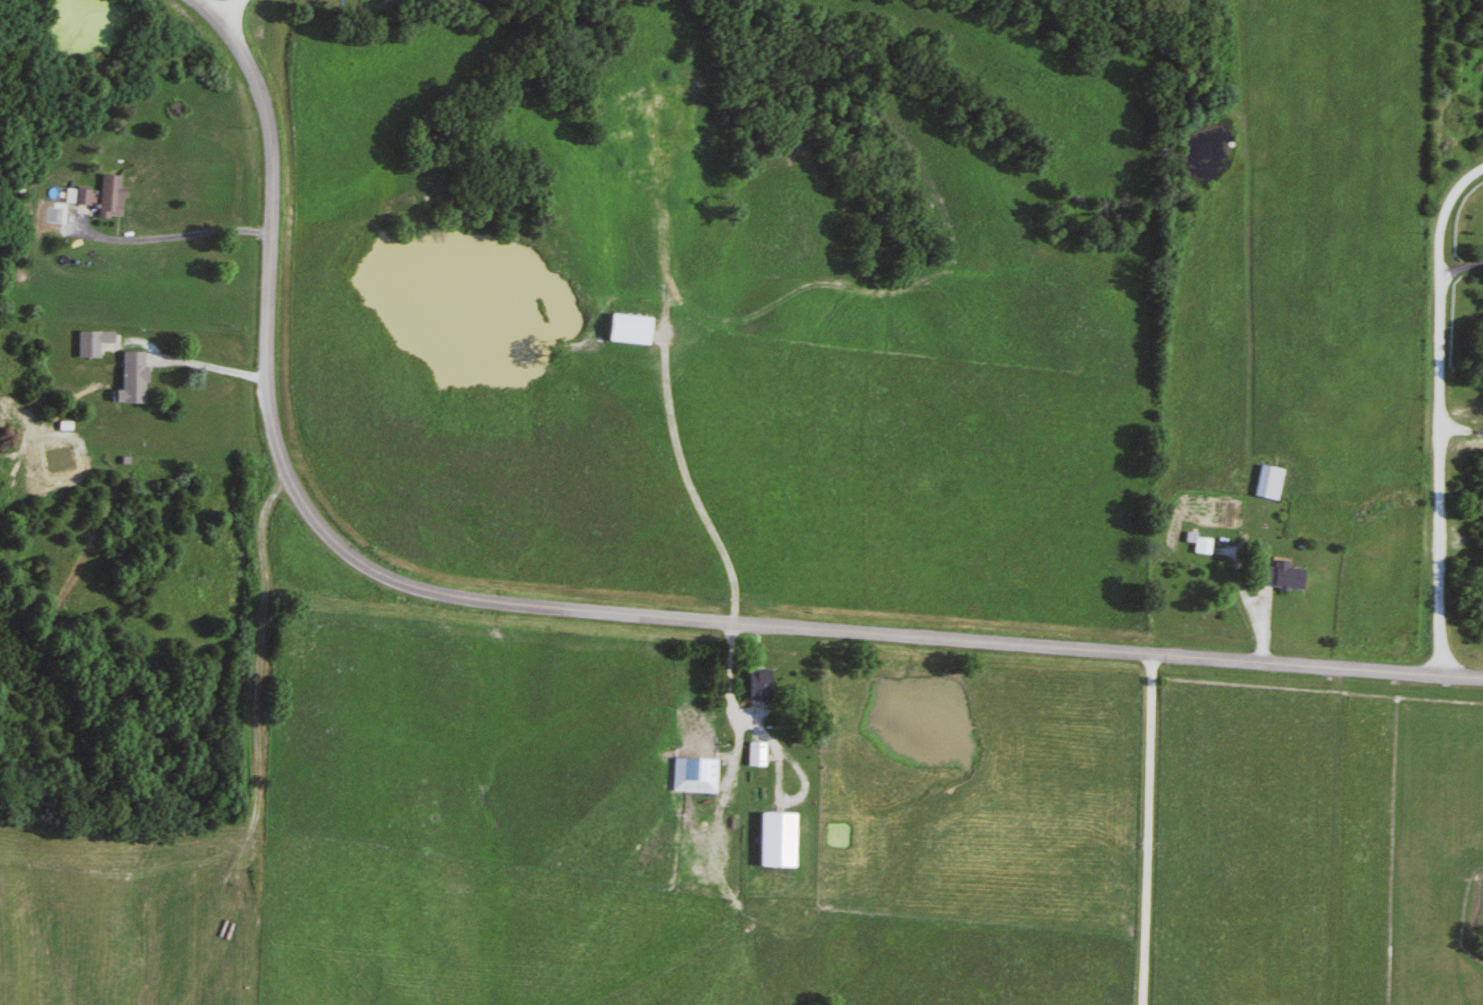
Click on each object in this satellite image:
road: (231, 11)
building: (73, 197)
building: (107, 198)
road: (165, 241)
road: (1462, 273)
building: (622, 330)
building: (88, 344)
road: (205, 369)
building: (128, 379)
road: (1436, 414)
building: (1265, 484)
road: (687, 492)
building: (1197, 544)
building: (1275, 577)
road: (607, 615)
building: (752, 685)
road: (729, 687)
building: (753, 754)
building: (692, 775)
road: (1334, 828)
road: (1147, 831)
road: (1312, 993)
road: (1327, 994)

